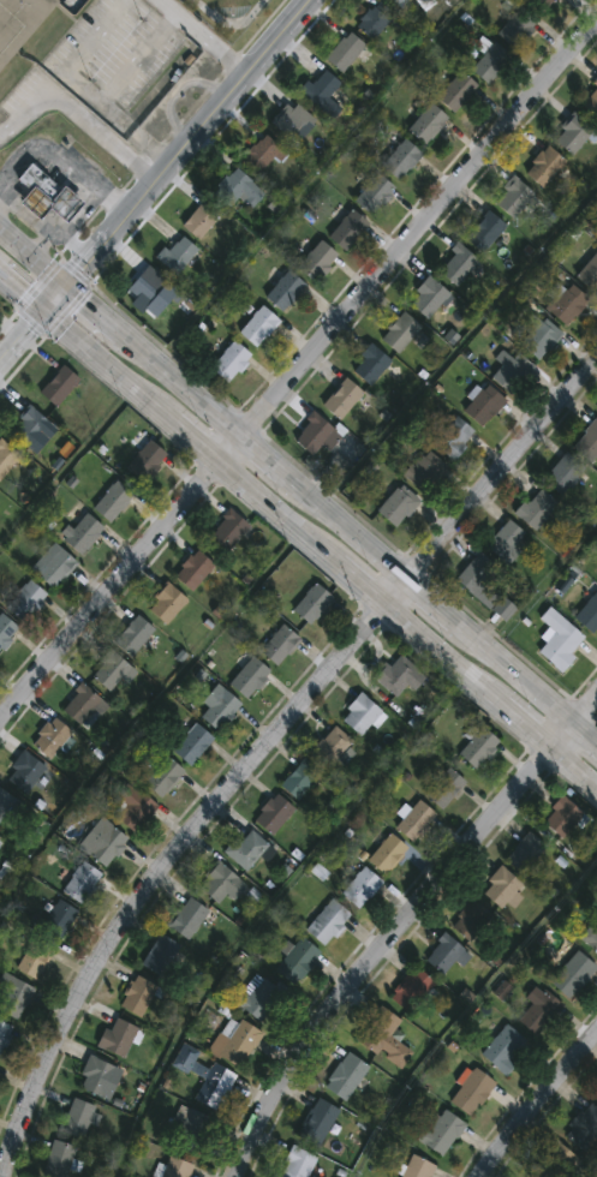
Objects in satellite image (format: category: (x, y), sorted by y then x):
building: (398, 2)
building: (541, 4)
park: (234, 6)
road: (161, 8)
park: (233, 17)
building: (374, 20)
building: (19, 23)
road: (237, 29)
building: (515, 29)
road: (207, 43)
building: (344, 50)
building: (490, 61)
building: (456, 90)
road: (88, 92)
road: (177, 94)
building: (591, 102)
road: (77, 120)
building: (291, 120)
building: (426, 123)
building: (572, 132)
road: (184, 138)
building: (261, 154)
building: (400, 159)
road: (58, 161)
building: (544, 167)
road: (309, 178)
gas station: (37, 184)
building: (237, 190)
building: (374, 193)
building: (513, 197)
building: (52, 205)
building: (198, 221)
building: (347, 229)
building: (485, 232)
road: (52, 238)
road: (42, 244)
road: (74, 245)
building: (175, 252)
building: (317, 261)
building: (458, 265)
building: (589, 274)
traffic signals: (67, 276)
building: (147, 286)
road: (20, 289)
building: (283, 291)
road: (54, 292)
building: (429, 298)
building: (563, 303)
traffic signals: (42, 309)
building: (258, 325)
building: (400, 333)
road: (20, 334)
building: (539, 337)
road: (461, 343)
building: (229, 360)
building: (370, 364)
road: (298, 366)
building: (508, 371)
building: (59, 387)
building: (342, 399)
building: (483, 405)
building: (30, 429)
building: (314, 434)
building: (453, 437)
building: (587, 443)
building: (145, 458)
building: (6, 459)
road: (68, 470)
building: (424, 471)
building: (563, 473)
road: (299, 478)
building: (113, 502)
building: (396, 506)
building: (535, 508)
building: (227, 532)
building: (82, 533)
building: (505, 542)
road: (322, 545)
building: (53, 566)
building: (195, 572)
road: (549, 580)
building: (484, 587)
building: (26, 602)
building: (167, 604)
building: (314, 604)
building: (589, 614)
building: (6, 631)
building: (135, 635)
building: (557, 640)
building: (280, 645)
building: (109, 670)
building: (247, 675)
building: (398, 675)
building: (80, 704)
building: (219, 709)
road: (144, 710)
building: (360, 715)
building: (50, 737)
road: (262, 741)
building: (192, 745)
building: (329, 746)
building: (478, 747)
building: (24, 773)
building: (163, 777)
building: (302, 778)
building: (444, 788)
building: (5, 802)
building: (131, 807)
building: (274, 813)
building: (563, 818)
building: (416, 820)
building: (103, 841)
building: (0, 844)
building: (246, 848)
building: (525, 852)
building: (387, 853)
building: (216, 879)
building: (82, 883)
building: (362, 886)
building: (502, 889)
road: (265, 909)
building: (189, 916)
building: (58, 920)
road: (398, 921)
building: (471, 921)
building: (328, 922)
building: (591, 936)
building: (446, 954)
building: (162, 956)
building: (35, 958)
building: (295, 961)
building: (573, 974)
building: (412, 988)
building: (138, 994)
building: (13, 996)
building: (257, 997)
building: (539, 1009)
road: (467, 1012)
building: (5, 1033)
building: (382, 1035)
building: (119, 1038)
building: (237, 1042)
building: (503, 1050)
building: (96, 1075)
building: (346, 1076)
building: (213, 1085)
building: (596, 1089)
building: (472, 1092)
building: (596, 1092)
road: (532, 1099)
building: (77, 1118)
building: (318, 1121)
building: (584, 1128)
building: (191, 1130)
building: (442, 1131)
building: (59, 1159)
building: (559, 1161)
building: (297, 1164)
building: (177, 1167)
building: (418, 1167)

